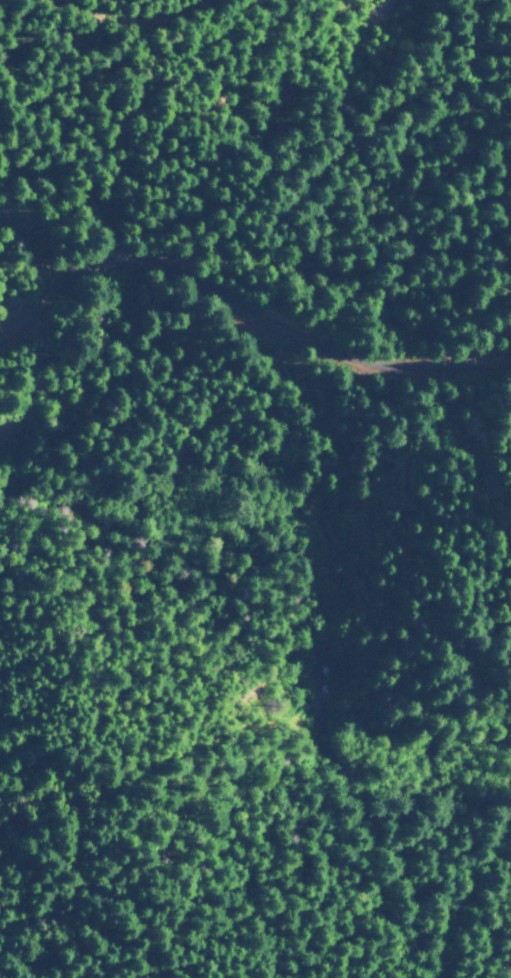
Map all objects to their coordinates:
road: (120, 26)
road: (240, 311)

